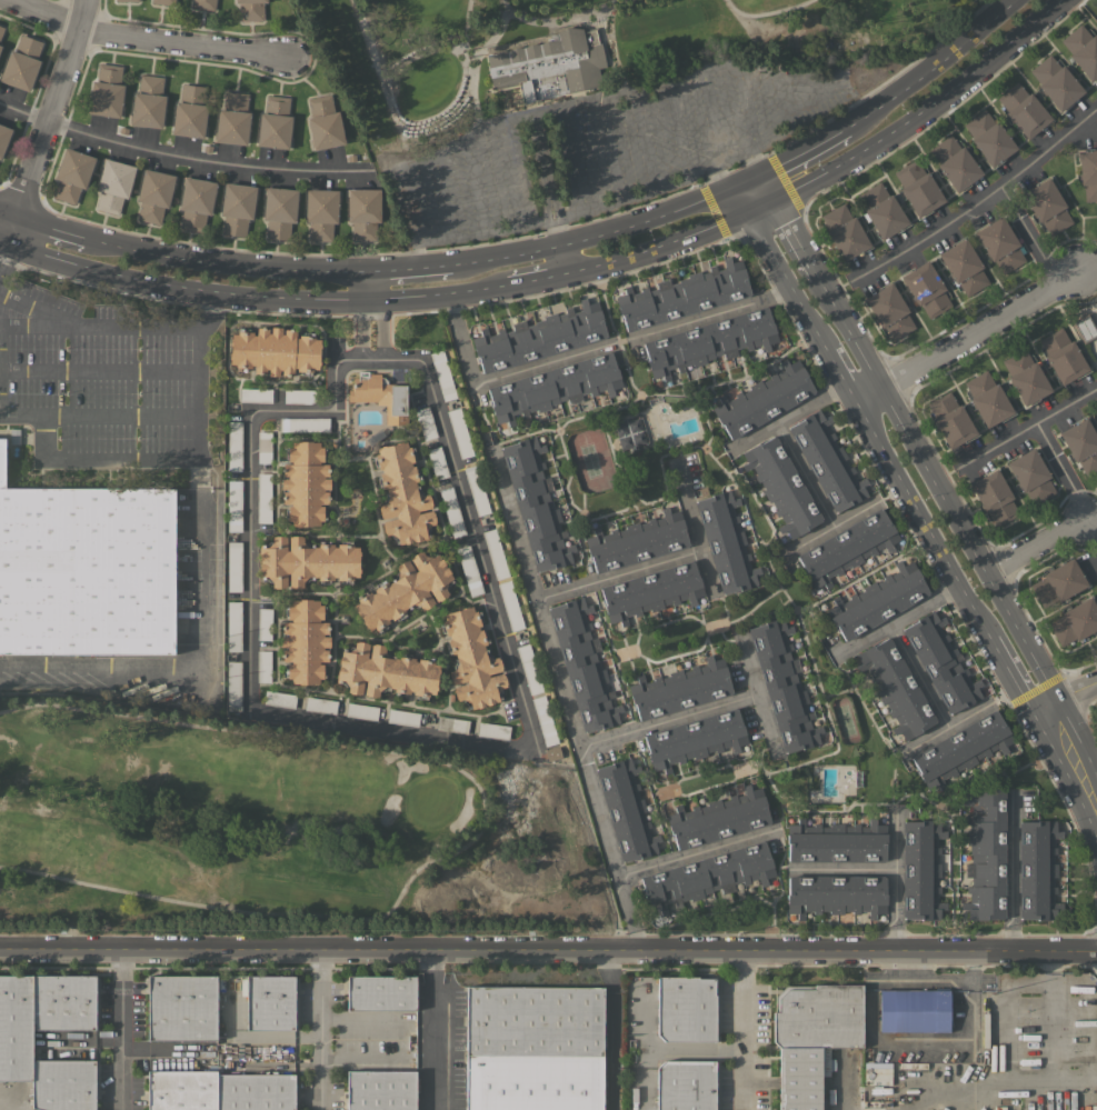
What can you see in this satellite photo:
building: (123, 0)
building: (163, 1)
park: (1093, 3)
building: (202, 4)
building: (250, 10)
road: (767, 11)
road: (557, 17)
building: (1, 29)
road: (492, 34)
road: (142, 38)
park: (580, 44)
building: (1081, 50)
road: (736, 60)
building: (21, 62)
building: (549, 62)
road: (929, 62)
building: (1055, 82)
road: (797, 90)
building: (106, 91)
building: (148, 102)
road: (746, 102)
building: (1023, 110)
building: (189, 111)
road: (712, 114)
building: (232, 119)
road: (418, 120)
building: (275, 122)
building: (322, 122)
road: (44, 123)
road: (679, 127)
building: (3, 137)
road: (647, 137)
building: (988, 137)
parking lot: (588, 144)
parking lot: (602, 146)
road: (609, 148)
road: (799, 150)
road: (181, 158)
road: (577, 158)
road: (759, 158)
building: (954, 163)
road: (837, 170)
road: (509, 173)
building: (1088, 173)
building: (71, 174)
road: (720, 177)
road: (475, 181)
building: (112, 184)
building: (917, 188)
road: (440, 190)
building: (153, 194)
road: (548, 194)
road: (405, 199)
building: (196, 202)
road: (977, 202)
building: (1047, 206)
road: (9, 207)
building: (237, 208)
building: (881, 210)
building: (279, 211)
building: (320, 212)
building: (362, 212)
road: (47, 222)
road: (483, 231)
building: (844, 231)
road: (601, 233)
road: (1027, 237)
building: (999, 244)
road: (2, 246)
road: (2, 251)
road: (417, 253)
road: (220, 261)
road: (408, 267)
building: (964, 267)
road: (540, 282)
building: (926, 289)
building: (682, 296)
road: (255, 299)
building: (889, 310)
building: (1085, 327)
road: (93, 330)
road: (382, 331)
road: (358, 332)
building: (538, 337)
road: (965, 337)
building: (709, 341)
road: (588, 348)
building: (275, 351)
road: (0, 353)
building: (1061, 356)
road: (99, 371)
building: (442, 374)
building: (1025, 377)
building: (554, 387)
building: (256, 394)
building: (299, 396)
building: (381, 396)
building: (987, 398)
building: (762, 399)
road: (121, 414)
road: (788, 417)
building: (950, 420)
building: (426, 422)
building: (303, 423)
road: (1027, 429)
building: (459, 432)
building: (629, 433)
road: (907, 437)
road: (445, 439)
building: (1081, 443)
building: (235, 446)
building: (263, 447)
road: (884, 451)
road: (160, 458)
building: (827, 460)
building: (437, 462)
road: (1060, 471)
road: (804, 474)
building: (1030, 476)
building: (305, 483)
building: (781, 487)
building: (476, 490)
building: (402, 494)
building: (263, 497)
building: (994, 497)
building: (535, 503)
building: (233, 506)
building: (451, 511)
road: (829, 524)
road: (696, 539)
building: (636, 541)
building: (726, 542)
road: (1035, 544)
building: (847, 548)
building: (495, 553)
building: (307, 561)
building: (233, 566)
building: (86, 570)
building: (469, 570)
road: (617, 574)
building: (1058, 582)
building: (405, 590)
building: (651, 591)
building: (877, 600)
building: (510, 606)
road: (895, 617)
building: (1075, 621)
building: (263, 623)
building: (233, 626)
building: (305, 641)
building: (471, 659)
building: (940, 662)
building: (582, 664)
building: (263, 666)
building: (528, 669)
building: (386, 671)
road: (917, 672)
building: (233, 686)
building: (782, 686)
building: (679, 688)
building: (896, 688)
road: (1071, 693)
road: (755, 698)
building: (279, 699)
road: (565, 702)
building: (320, 704)
building: (361, 711)
road: (961, 714)
building: (402, 717)
building: (543, 720)
road: (666, 721)
building: (451, 724)
building: (492, 730)
building: (695, 739)
building: (960, 749)
road: (1071, 753)
road: (1096, 797)
building: (626, 809)
building: (718, 818)
road: (481, 820)
park: (235, 828)
building: (836, 841)
building: (985, 852)
road: (696, 853)
road: (841, 868)
building: (920, 869)
building: (1037, 870)
building: (707, 876)
road: (1010, 878)
road: (891, 882)
building: (836, 893)
road: (548, 952)
road: (431, 957)
road: (1049, 969)
building: (381, 992)
building: (62, 1002)
building: (270, 1002)
building: (181, 1007)
building: (685, 1008)
road: (1053, 1008)
building: (914, 1010)
building: (16, 1027)
road: (120, 1031)
road: (319, 1031)
road: (745, 1031)
road: (1006, 1033)
road: (432, 1036)
building: (811, 1036)
road: (916, 1043)
building: (533, 1048)
road: (697, 1048)
building: (824, 1061)
road: (1036, 1081)
building: (62, 1084)
building: (685, 1084)
building: (181, 1090)
building: (380, 1090)
building: (255, 1092)
road: (4, 1102)

